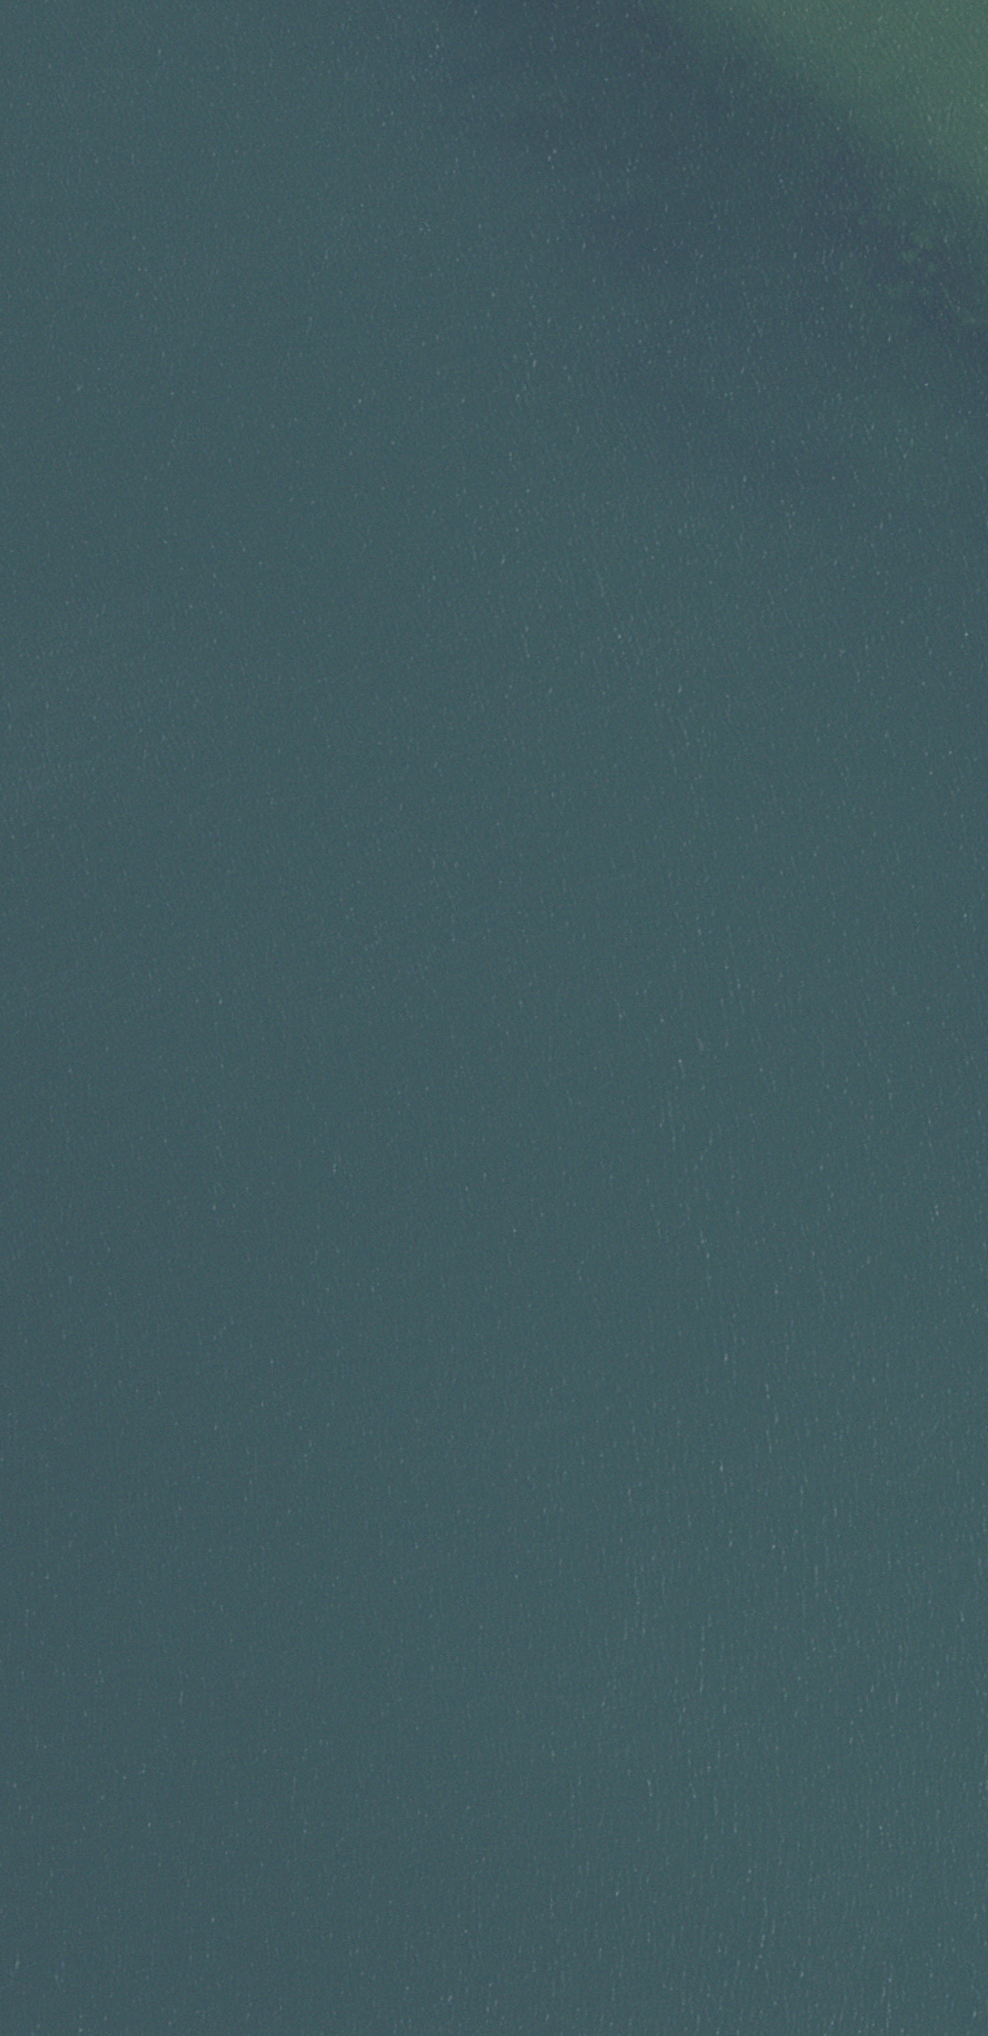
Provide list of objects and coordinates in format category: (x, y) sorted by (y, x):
river: (494, 619)

